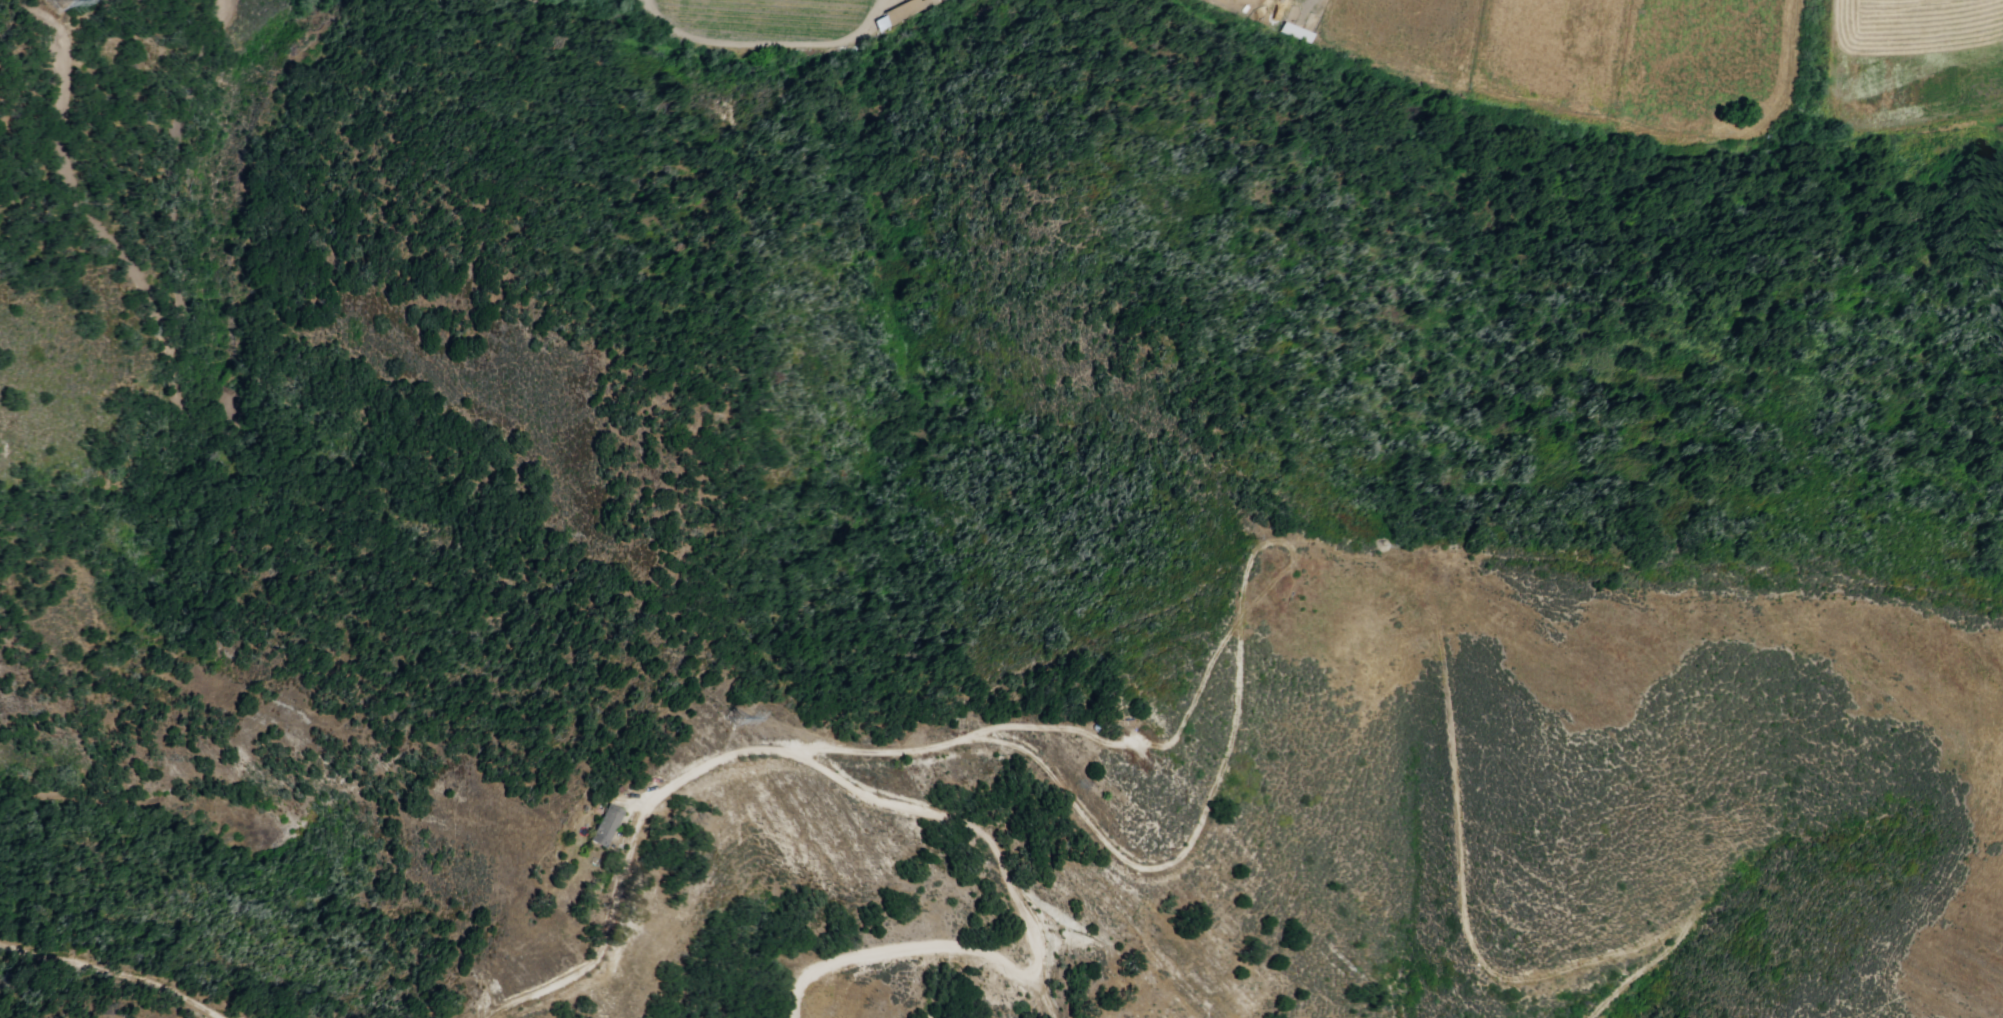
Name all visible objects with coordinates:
power tower: (65, 0)
crop: (1283, 11)
building: (905, 12)
crop: (770, 20)
road: (771, 47)
crop: (1585, 57)
crop: (1921, 62)
power tower: (736, 718)
road: (1145, 742)
building: (622, 791)
road: (880, 800)
building: (607, 827)
road: (1181, 858)
road: (1462, 873)
road: (118, 970)

